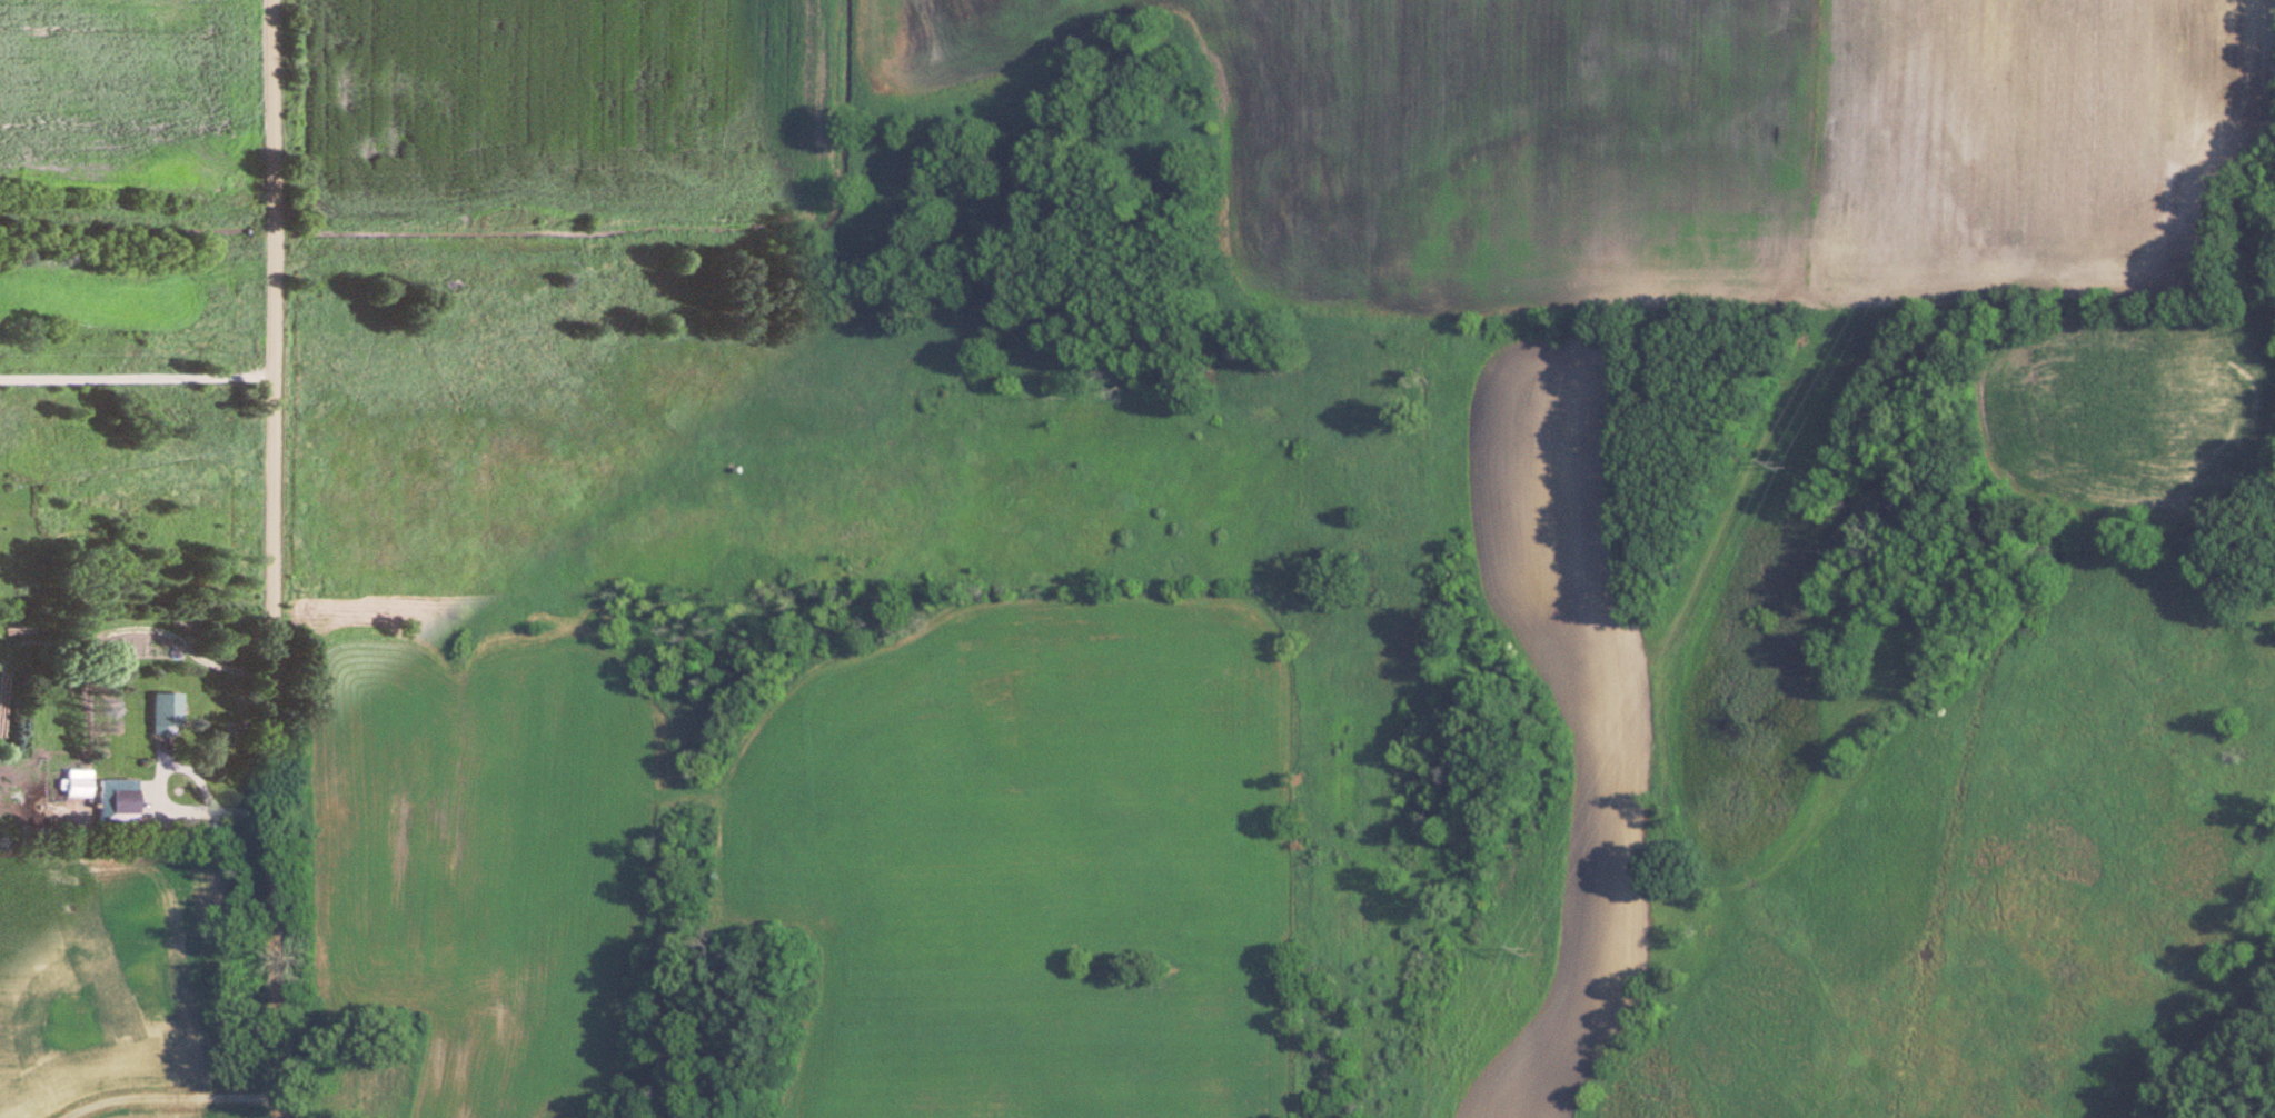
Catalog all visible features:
road: (138, 380)
power tower: (1780, 456)
road: (278, 559)
building: (160, 711)
building: (72, 782)
building: (113, 800)
road: (168, 808)
power tower: (1524, 947)
road: (178, 1098)

